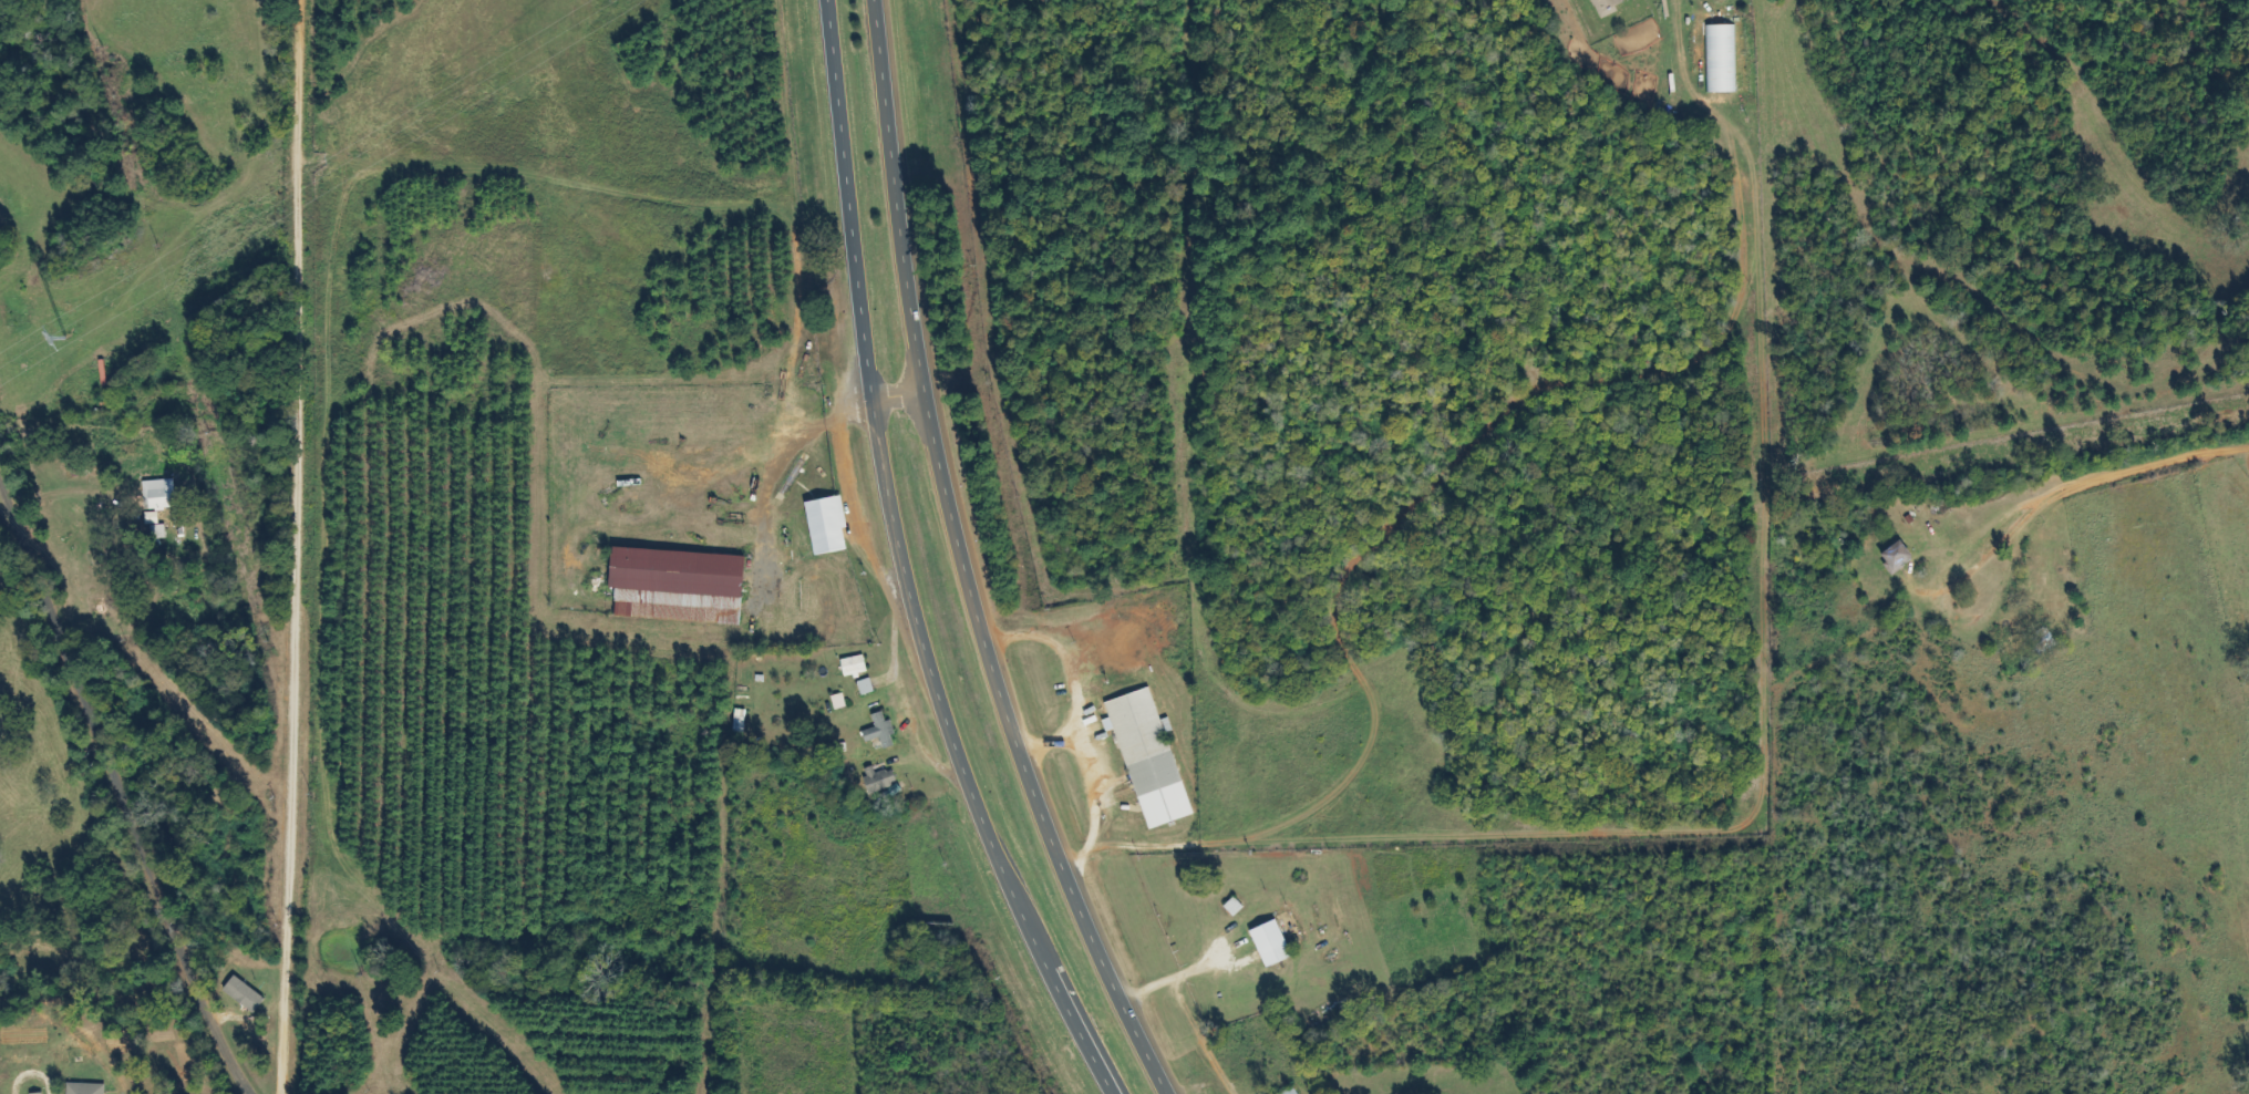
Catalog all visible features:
building: (1607, 6)
building: (1721, 60)
power tower: (63, 340)
road: (898, 399)
road: (63, 493)
building: (159, 496)
building: (827, 527)
road: (297, 547)
building: (1898, 558)
road: (962, 563)
road: (901, 565)
building: (679, 587)
building: (854, 667)
building: (866, 688)
building: (837, 703)
building: (881, 732)
building: (1149, 760)
road: (120, 788)
building: (1271, 945)
building: (245, 995)
building: (86, 1090)
building: (1291, 1092)

